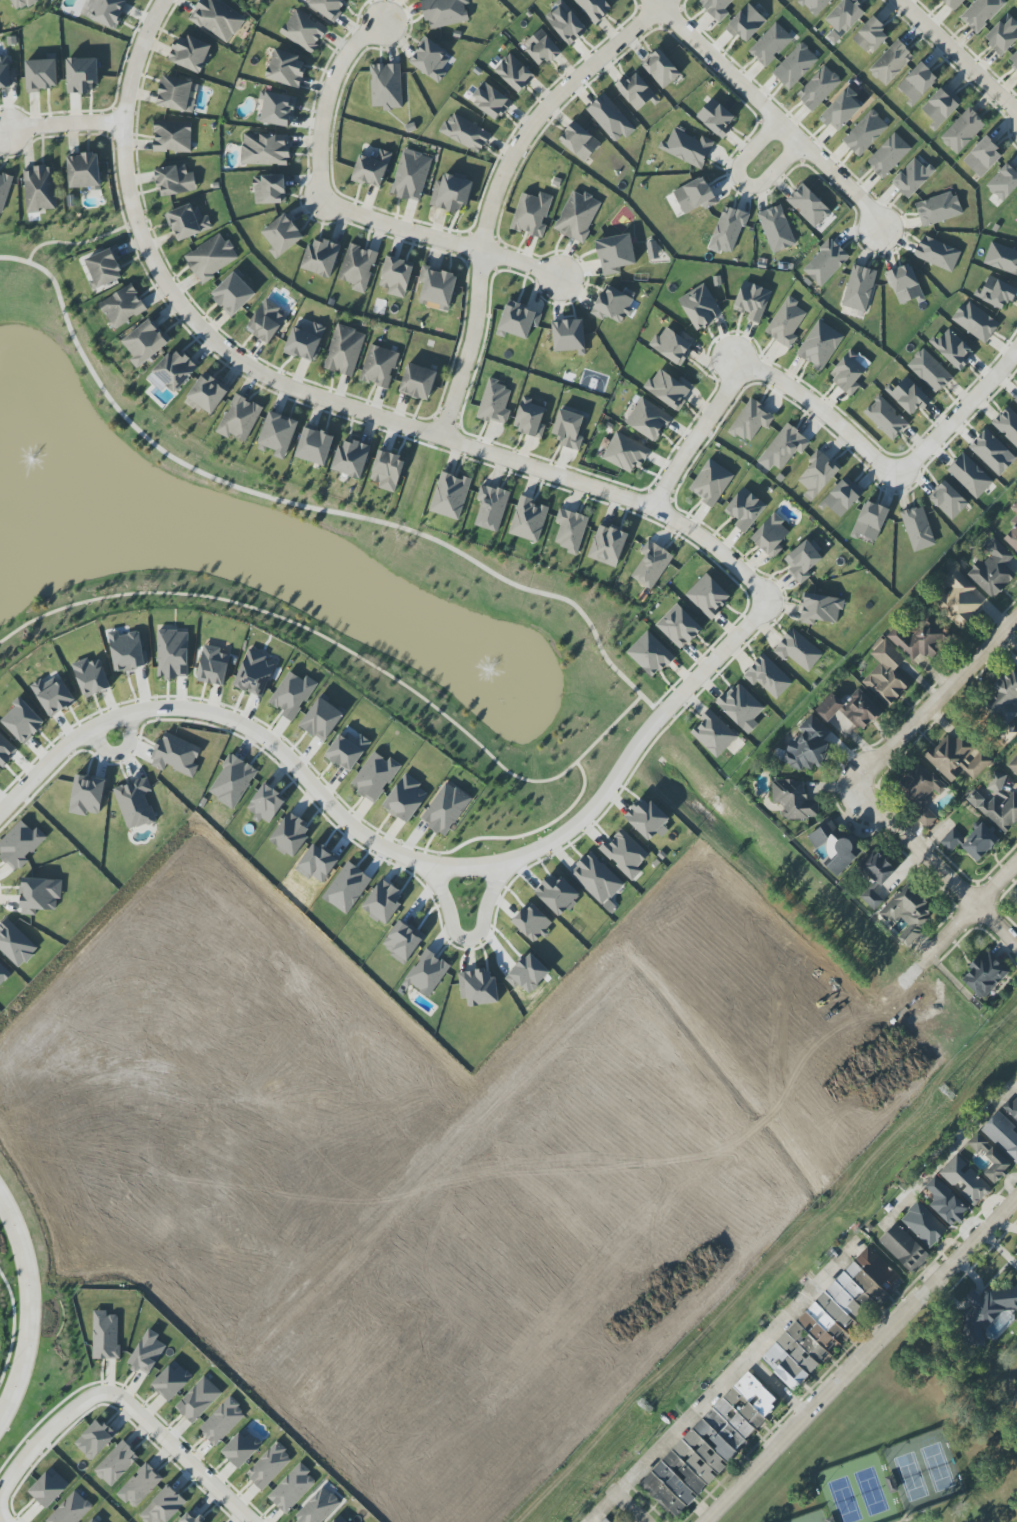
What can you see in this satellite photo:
building: (21, 4)
building: (953, 4)
building: (814, 5)
park: (266, 6)
building: (328, 7)
building: (595, 8)
building: (716, 8)
building: (104, 11)
building: (444, 12)
building: (981, 13)
building: (846, 15)
building: (218, 19)
building: (566, 22)
building: (746, 23)
building: (304, 31)
building: (1003, 35)
building: (871, 36)
building: (770, 45)
building: (542, 48)
building: (190, 53)
road: (957, 56)
building: (1013, 59)
building: (430, 60)
building: (891, 63)
building: (795, 66)
building: (286, 68)
building: (661, 69)
building: (514, 73)
building: (7, 74)
building: (40, 75)
building: (81, 75)
building: (917, 83)
building: (386, 86)
building: (818, 88)
building: (636, 92)
building: (174, 93)
building: (490, 101)
building: (941, 106)
building: (278, 109)
building: (842, 110)
road: (769, 113)
building: (716, 118)
building: (611, 119)
road: (66, 126)
building: (962, 131)
building: (465, 133)
building: (865, 133)
building: (172, 136)
building: (579, 141)
building: (687, 147)
building: (265, 149)
building: (888, 155)
building: (983, 157)
building: (372, 169)
building: (84, 171)
building: (411, 175)
building: (912, 178)
building: (174, 181)
road: (741, 181)
building: (1003, 182)
road: (496, 187)
building: (39, 189)
building: (269, 189)
building: (4, 190)
building: (451, 193)
building: (694, 195)
building: (809, 206)
building: (938, 209)
road: (346, 210)
building: (532, 214)
building: (577, 216)
building: (187, 222)
building: (776, 229)
building: (728, 230)
building: (282, 235)
road: (79, 244)
building: (652, 250)
building: (937, 253)
building: (615, 254)
building: (321, 257)
building: (211, 258)
building: (1002, 258)
building: (825, 263)
building: (358, 267)
building: (105, 268)
building: (396, 276)
building: (905, 285)
building: (437, 288)
building: (859, 288)
building: (996, 293)
building: (233, 294)
building: (752, 301)
building: (613, 305)
building: (122, 306)
building: (700, 307)
building: (518, 320)
building: (976, 321)
building: (266, 322)
building: (786, 323)
building: (569, 336)
building: (305, 341)
building: (145, 342)
building: (672, 345)
building: (819, 345)
building: (952, 348)
building: (344, 350)
building: (379, 366)
building: (849, 371)
building: (929, 371)
building: (173, 372)
road: (754, 372)
building: (418, 382)
building: (668, 389)
building: (208, 393)
building: (910, 396)
building: (1016, 400)
building: (494, 403)
road: (959, 413)
building: (240, 418)
building: (530, 418)
building: (886, 418)
building: (648, 420)
building: (751, 421)
road: (402, 425)
building: (1007, 425)
building: (569, 429)
building: (277, 434)
building: (315, 445)
building: (783, 448)
building: (991, 452)
building: (625, 453)
building: (351, 458)
building: (387, 470)
building: (818, 476)
building: (970, 476)
building: (711, 482)
building: (450, 496)
building: (842, 498)
building: (948, 500)
building: (491, 507)
building: (1014, 507)
road: (311, 508)
building: (745, 509)
building: (528, 519)
building: (870, 522)
building: (918, 528)
building: (570, 530)
building: (771, 536)
building: (1011, 536)
building: (607, 545)
building: (803, 561)
park: (283, 563)
building: (651, 564)
building: (992, 570)
building: (708, 596)
building: (958, 599)
building: (821, 609)
building: (679, 626)
building: (919, 638)
road: (349, 650)
building: (798, 650)
building: (127, 651)
building: (172, 654)
building: (650, 654)
building: (213, 666)
building: (254, 673)
building: (886, 673)
building: (91, 677)
building: (768, 677)
building: (292, 695)
building: (53, 696)
building: (1005, 698)
road: (936, 701)
building: (741, 707)
building: (850, 710)
building: (322, 719)
building: (22, 721)
building: (714, 734)
building: (809, 746)
building: (6, 750)
building: (348, 750)
building: (176, 755)
building: (958, 758)
building: (1013, 765)
building: (375, 776)
building: (232, 781)
building: (921, 792)
building: (87, 795)
road: (329, 799)
building: (405, 799)
building: (793, 799)
building: (135, 803)
building: (266, 803)
building: (997, 805)
building: (445, 808)
building: (648, 820)
building: (290, 835)
building: (952, 840)
building: (980, 842)
building: (20, 844)
building: (836, 847)
building: (625, 854)
road: (936, 865)
building: (877, 867)
building: (596, 878)
building: (39, 895)
building: (557, 895)
building: (872, 899)
building: (383, 902)
road: (971, 910)
building: (908, 913)
building: (532, 923)
road: (464, 939)
building: (402, 941)
building: (427, 973)
building: (985, 975)
building: (478, 987)
power tower: (946, 1093)
building: (1012, 1109)
building: (1002, 1135)
building: (977, 1143)
park: (71, 1145)
road: (955, 1151)
building: (996, 1166)
building: (965, 1180)
building: (946, 1203)
building: (924, 1224)
building: (1016, 1246)
building: (904, 1248)
road: (29, 1309)
building: (985, 1312)
building: (829, 1318)
building: (105, 1335)
building: (147, 1353)
road: (862, 1358)
building: (172, 1381)
road: (726, 1381)
road: (777, 1387)
road: (139, 1397)
building: (198, 1400)
power tower: (645, 1407)
road: (111, 1408)
building: (222, 1421)
road: (45, 1436)
building: (95, 1439)
park: (909, 1442)
building: (709, 1445)
building: (242, 1448)
road: (178, 1457)
building: (116, 1463)
building: (269, 1466)
building: (140, 1486)
building: (49, 1488)
building: (292, 1488)
building: (164, 1506)
building: (317, 1506)
road: (633, 1508)
building: (71, 1509)
road: (1, 1518)
building: (189, 1518)
building: (341, 1519)
building: (93, 1520)
building: (605, 1520)

